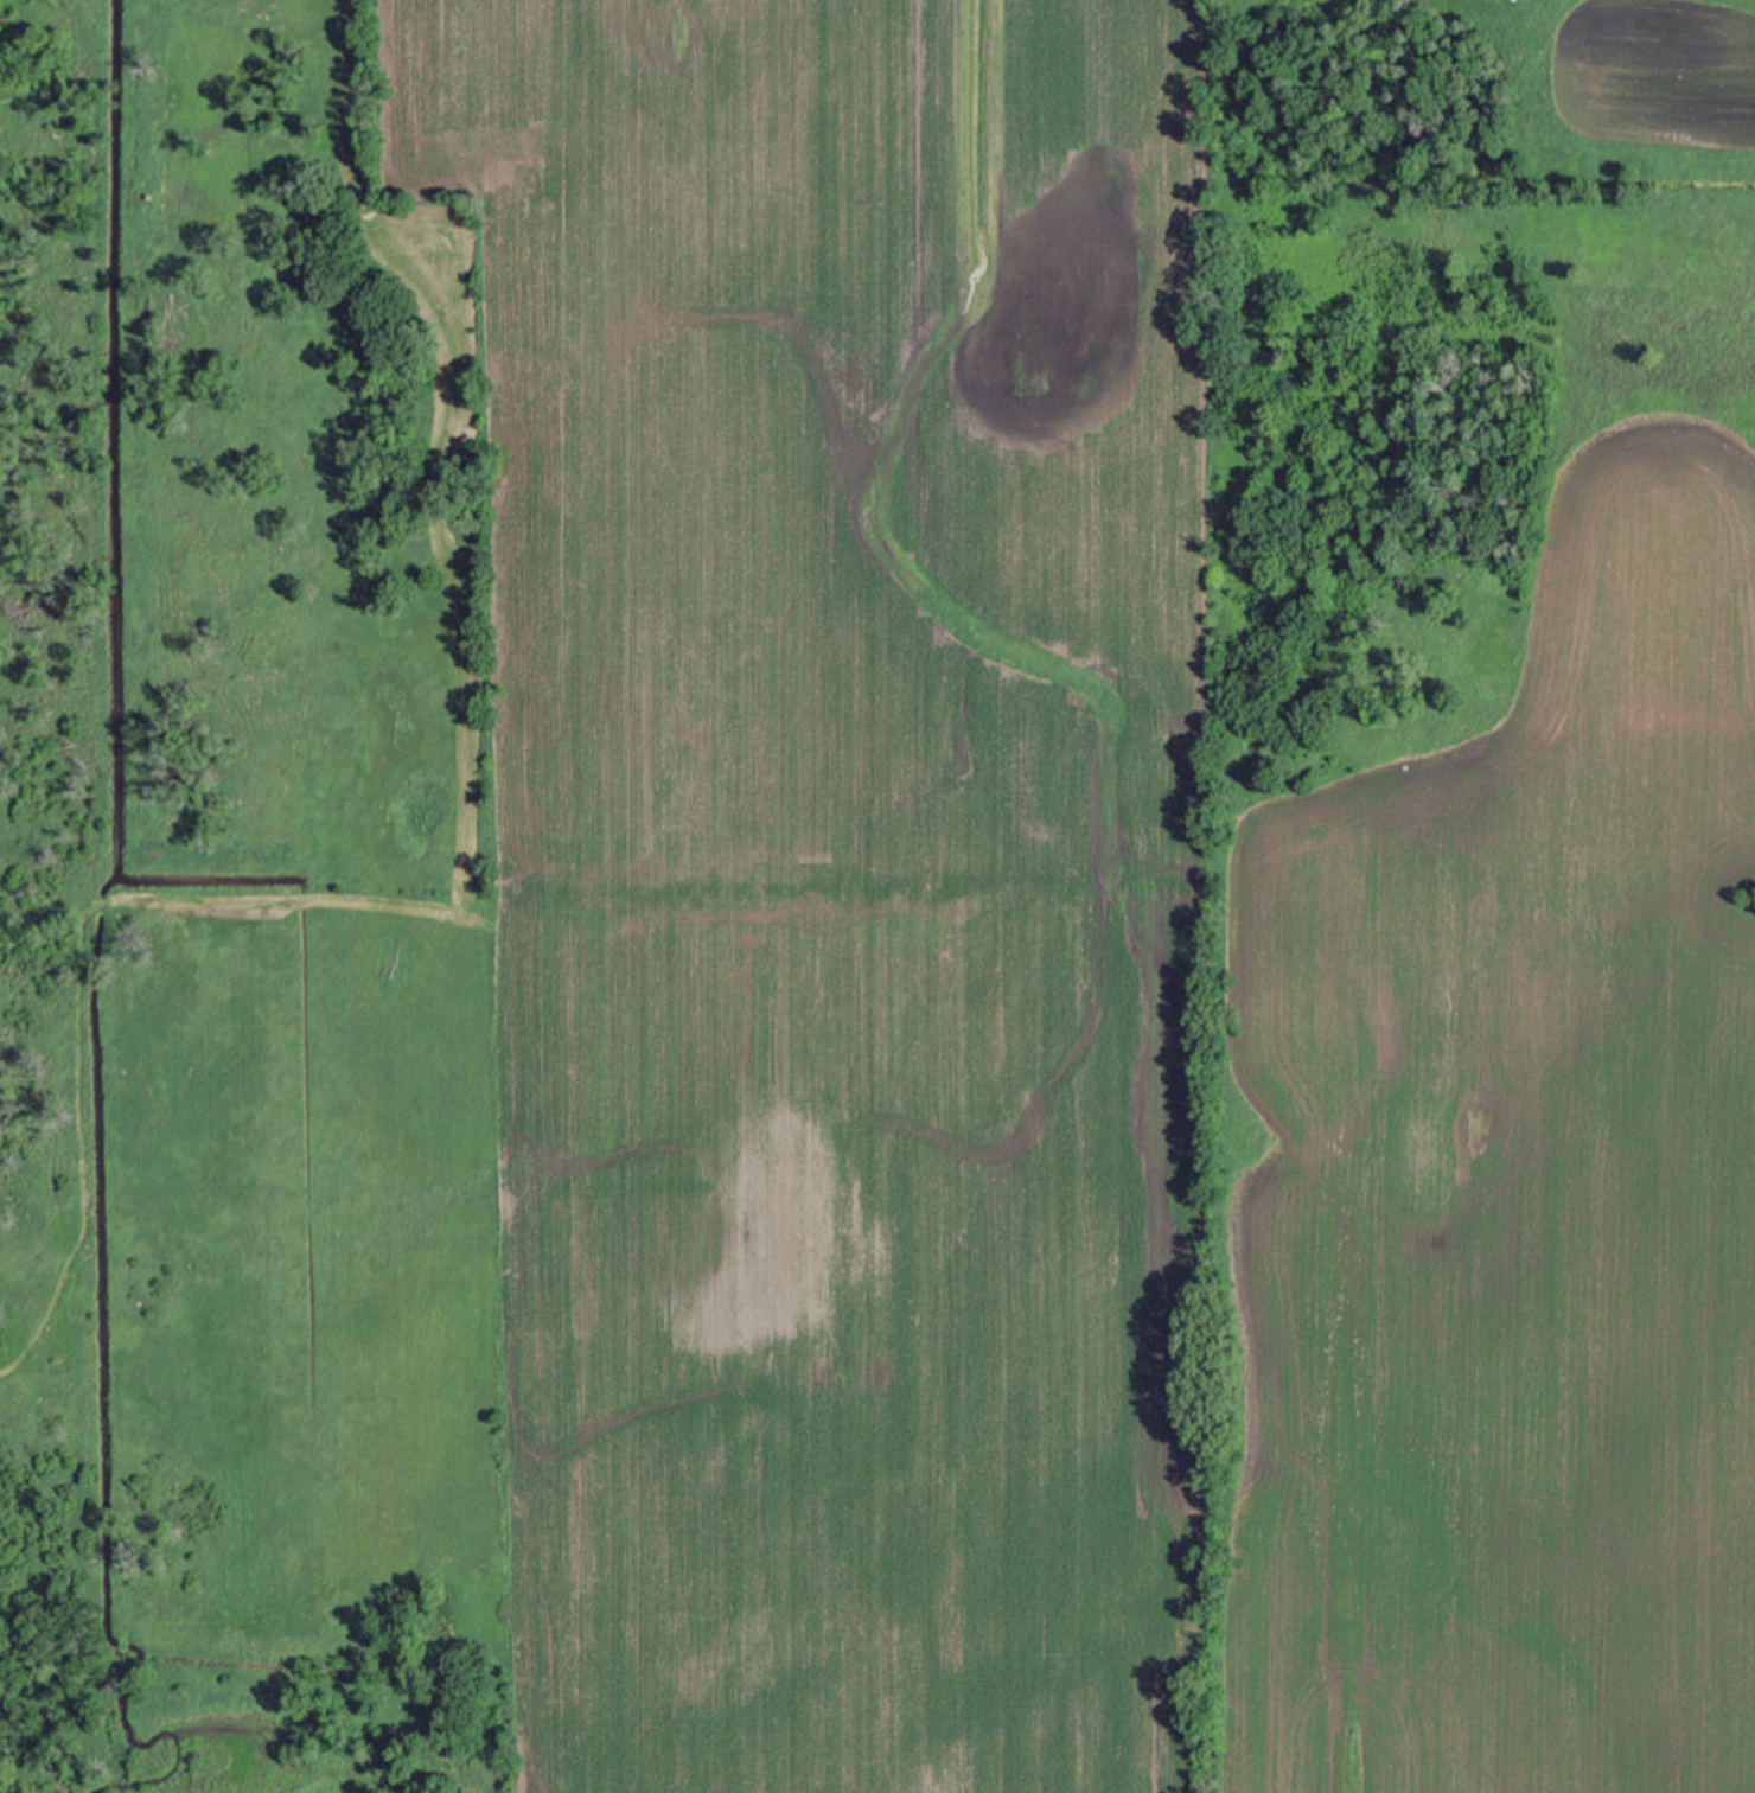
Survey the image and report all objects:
building: (302, 901)
building: (113, 1642)

